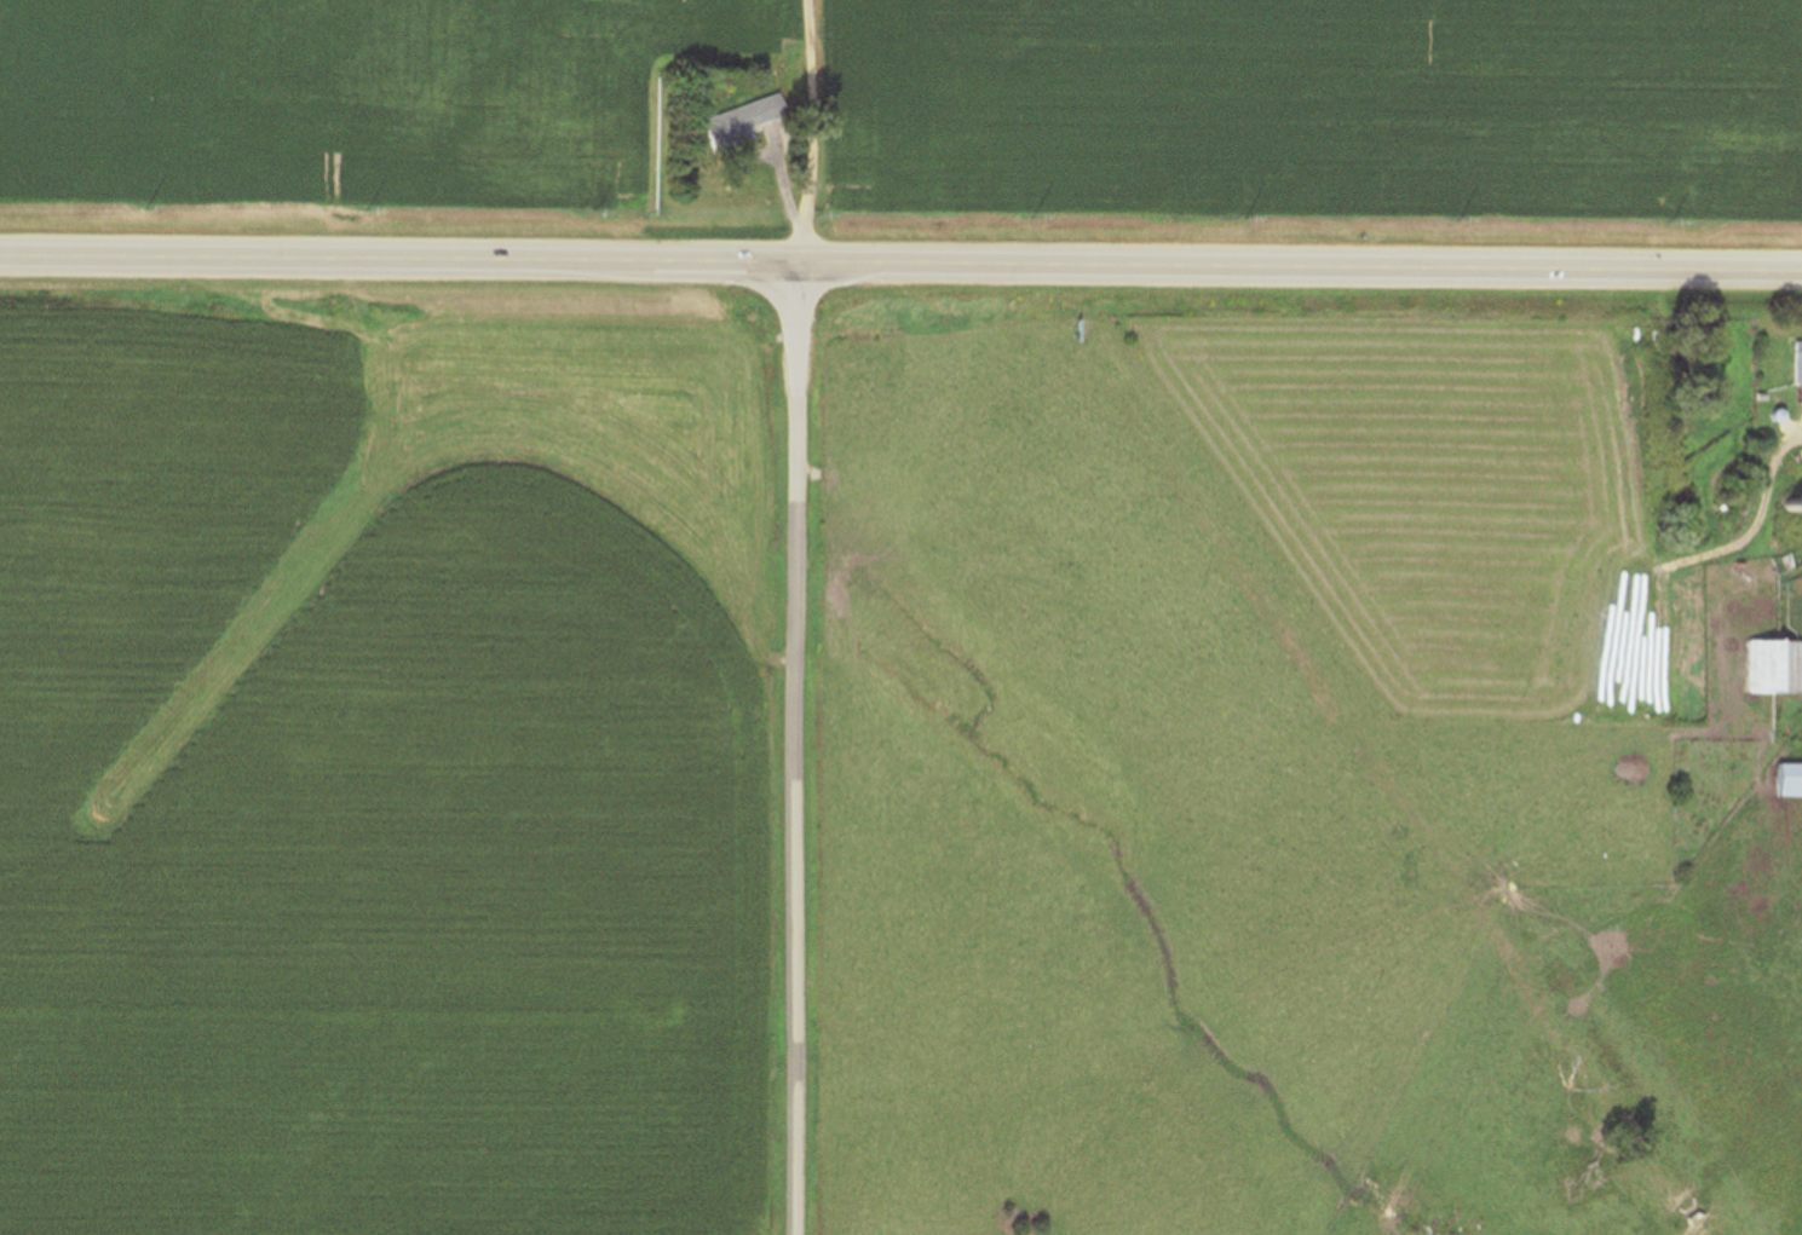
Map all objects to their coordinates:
building: (739, 125)
road: (795, 132)
road: (900, 265)
building: (1795, 362)
building: (1771, 668)
road: (788, 749)
building: (1784, 781)

